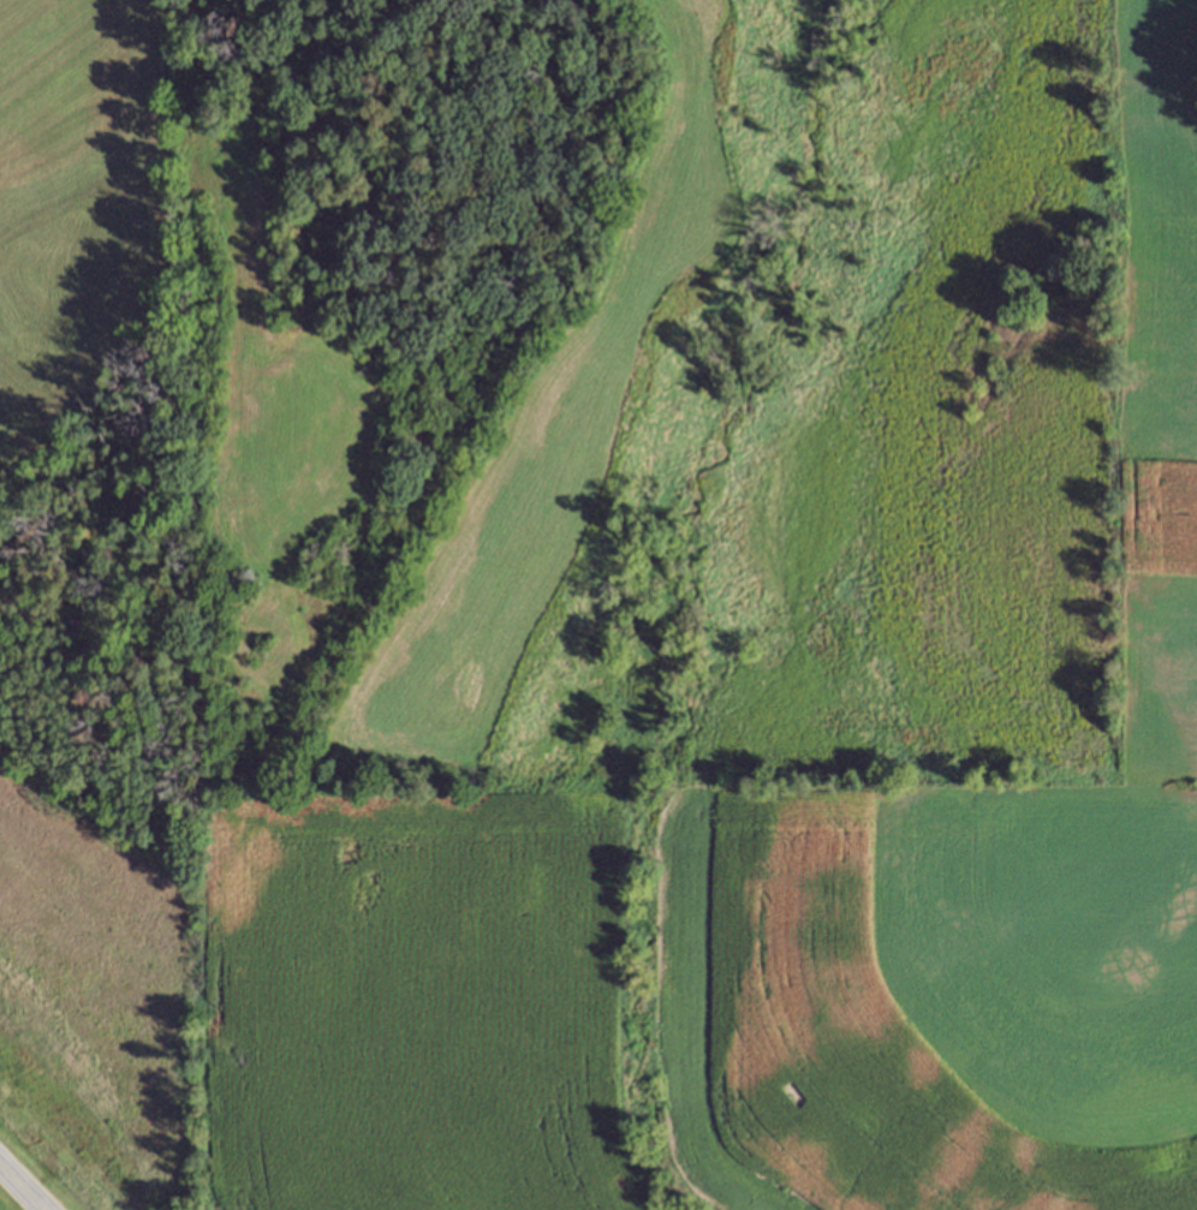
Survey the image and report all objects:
road: (22, 1187)

